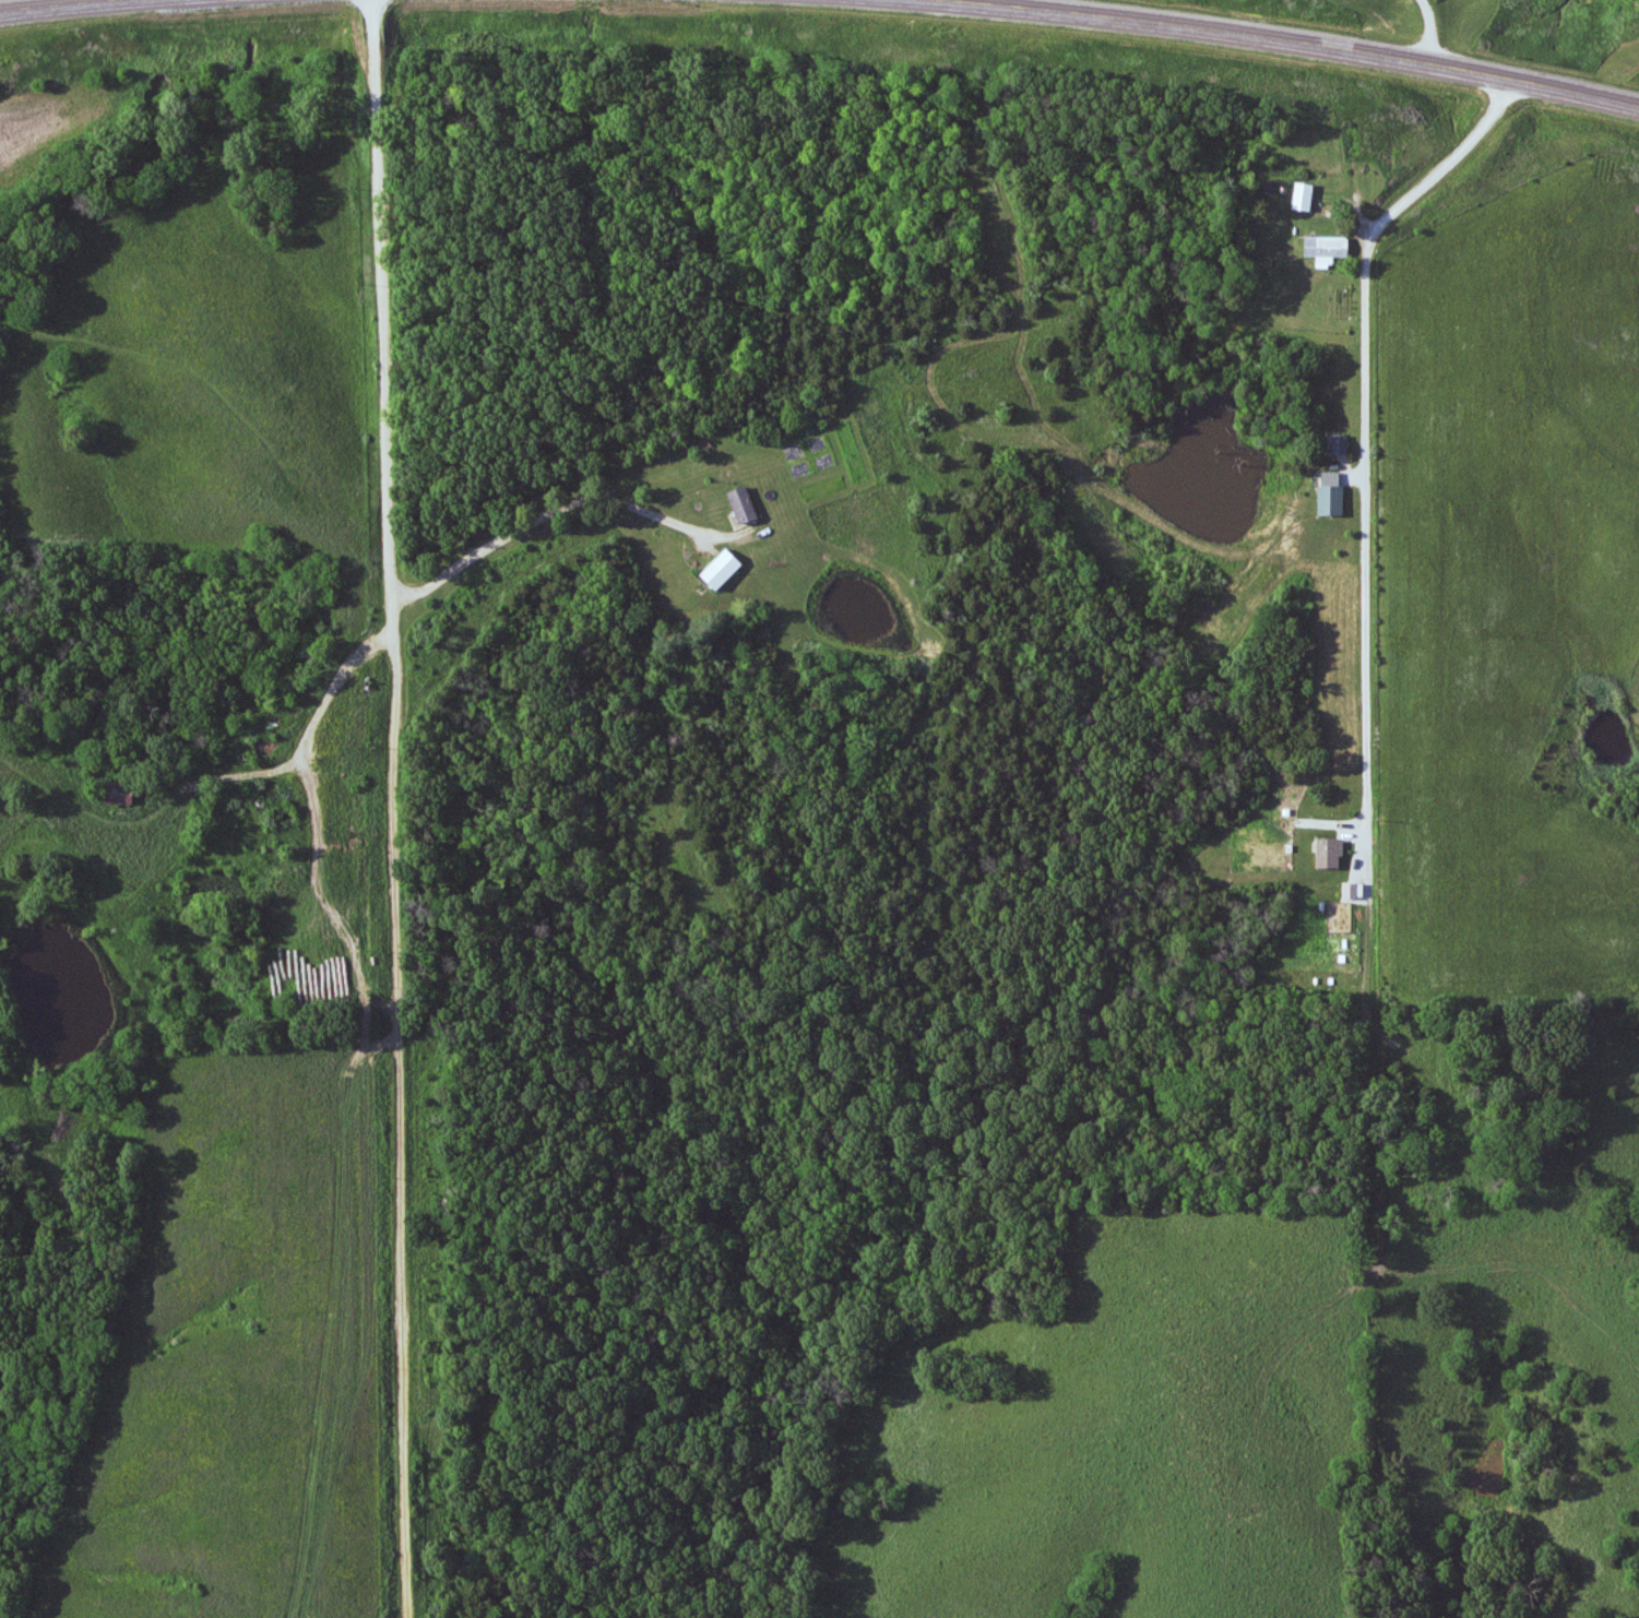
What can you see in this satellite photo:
road: (41, 2)
road: (1427, 28)
road: (1288, 40)
building: (1299, 197)
building: (1322, 249)
building: (1325, 497)
road: (559, 502)
building: (737, 504)
building: (716, 569)
road: (1368, 597)
road: (305, 748)
building: (122, 797)
road: (402, 808)
road: (356, 1181)

